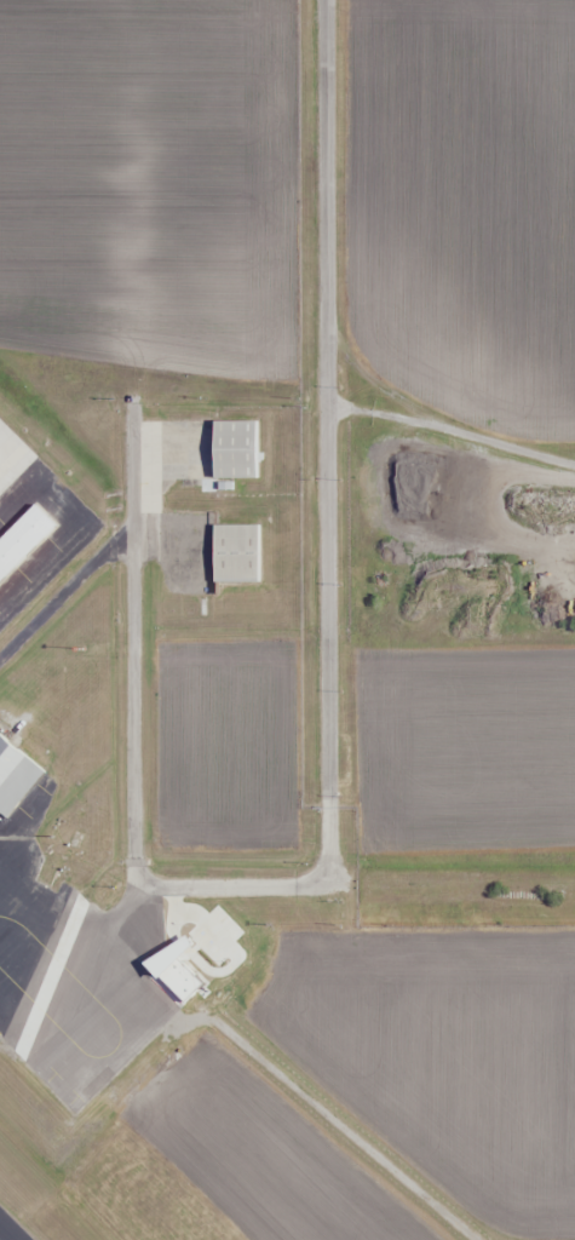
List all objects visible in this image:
building: (225, 441)
airport apron: (34, 523)
building: (17, 530)
road: (330, 533)
building: (225, 547)
airport: (287, 620)
road: (136, 681)
building: (11, 769)
building: (46, 871)
airport apron: (29, 932)
road: (280, 1075)

